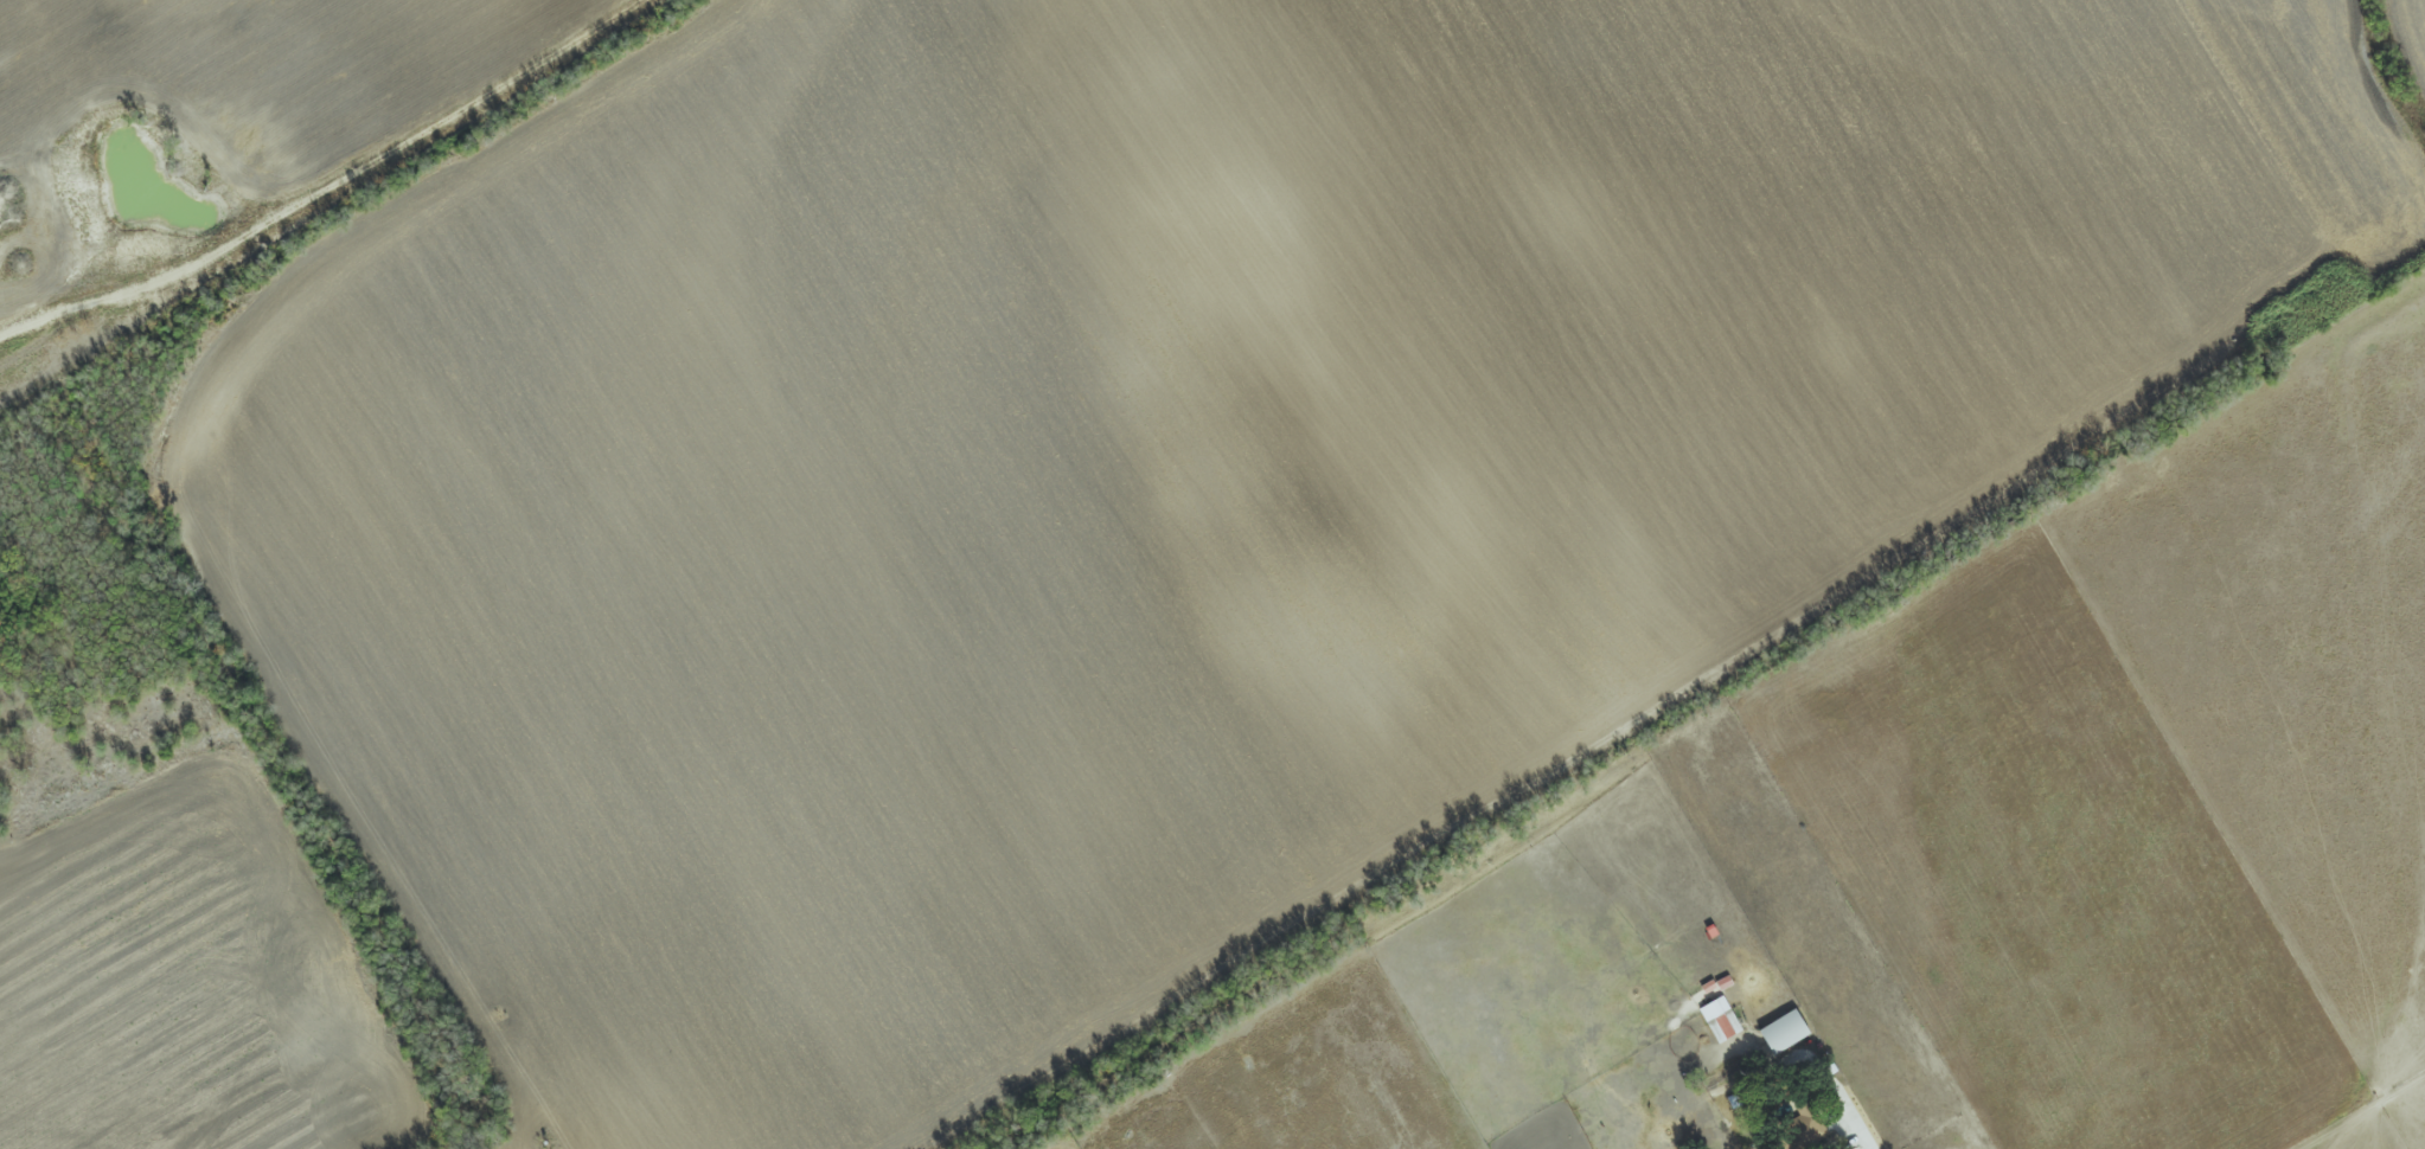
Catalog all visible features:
crop: (145, 73)
road: (296, 200)
building: (1717, 1019)
building: (1780, 1031)

